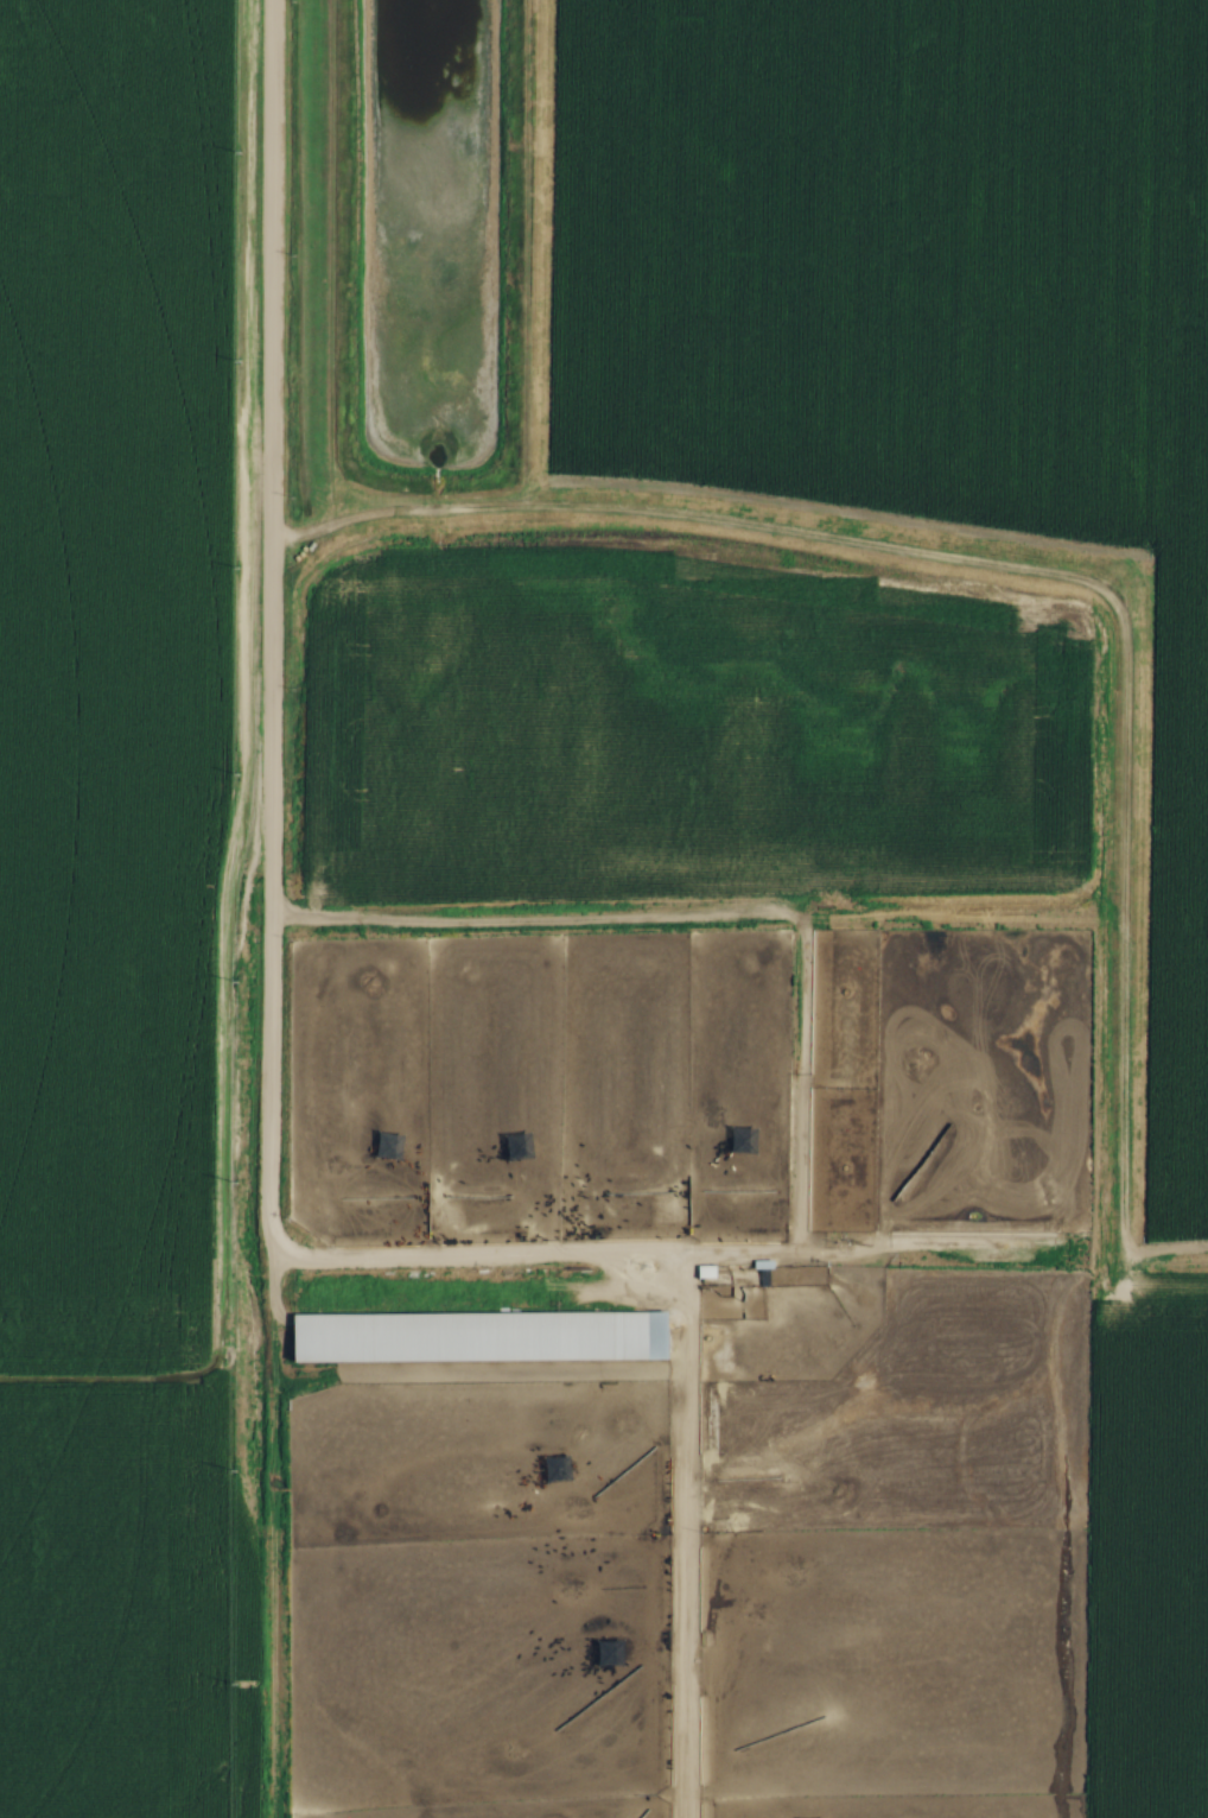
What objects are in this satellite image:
road: (266, 609)
building: (485, 1334)

